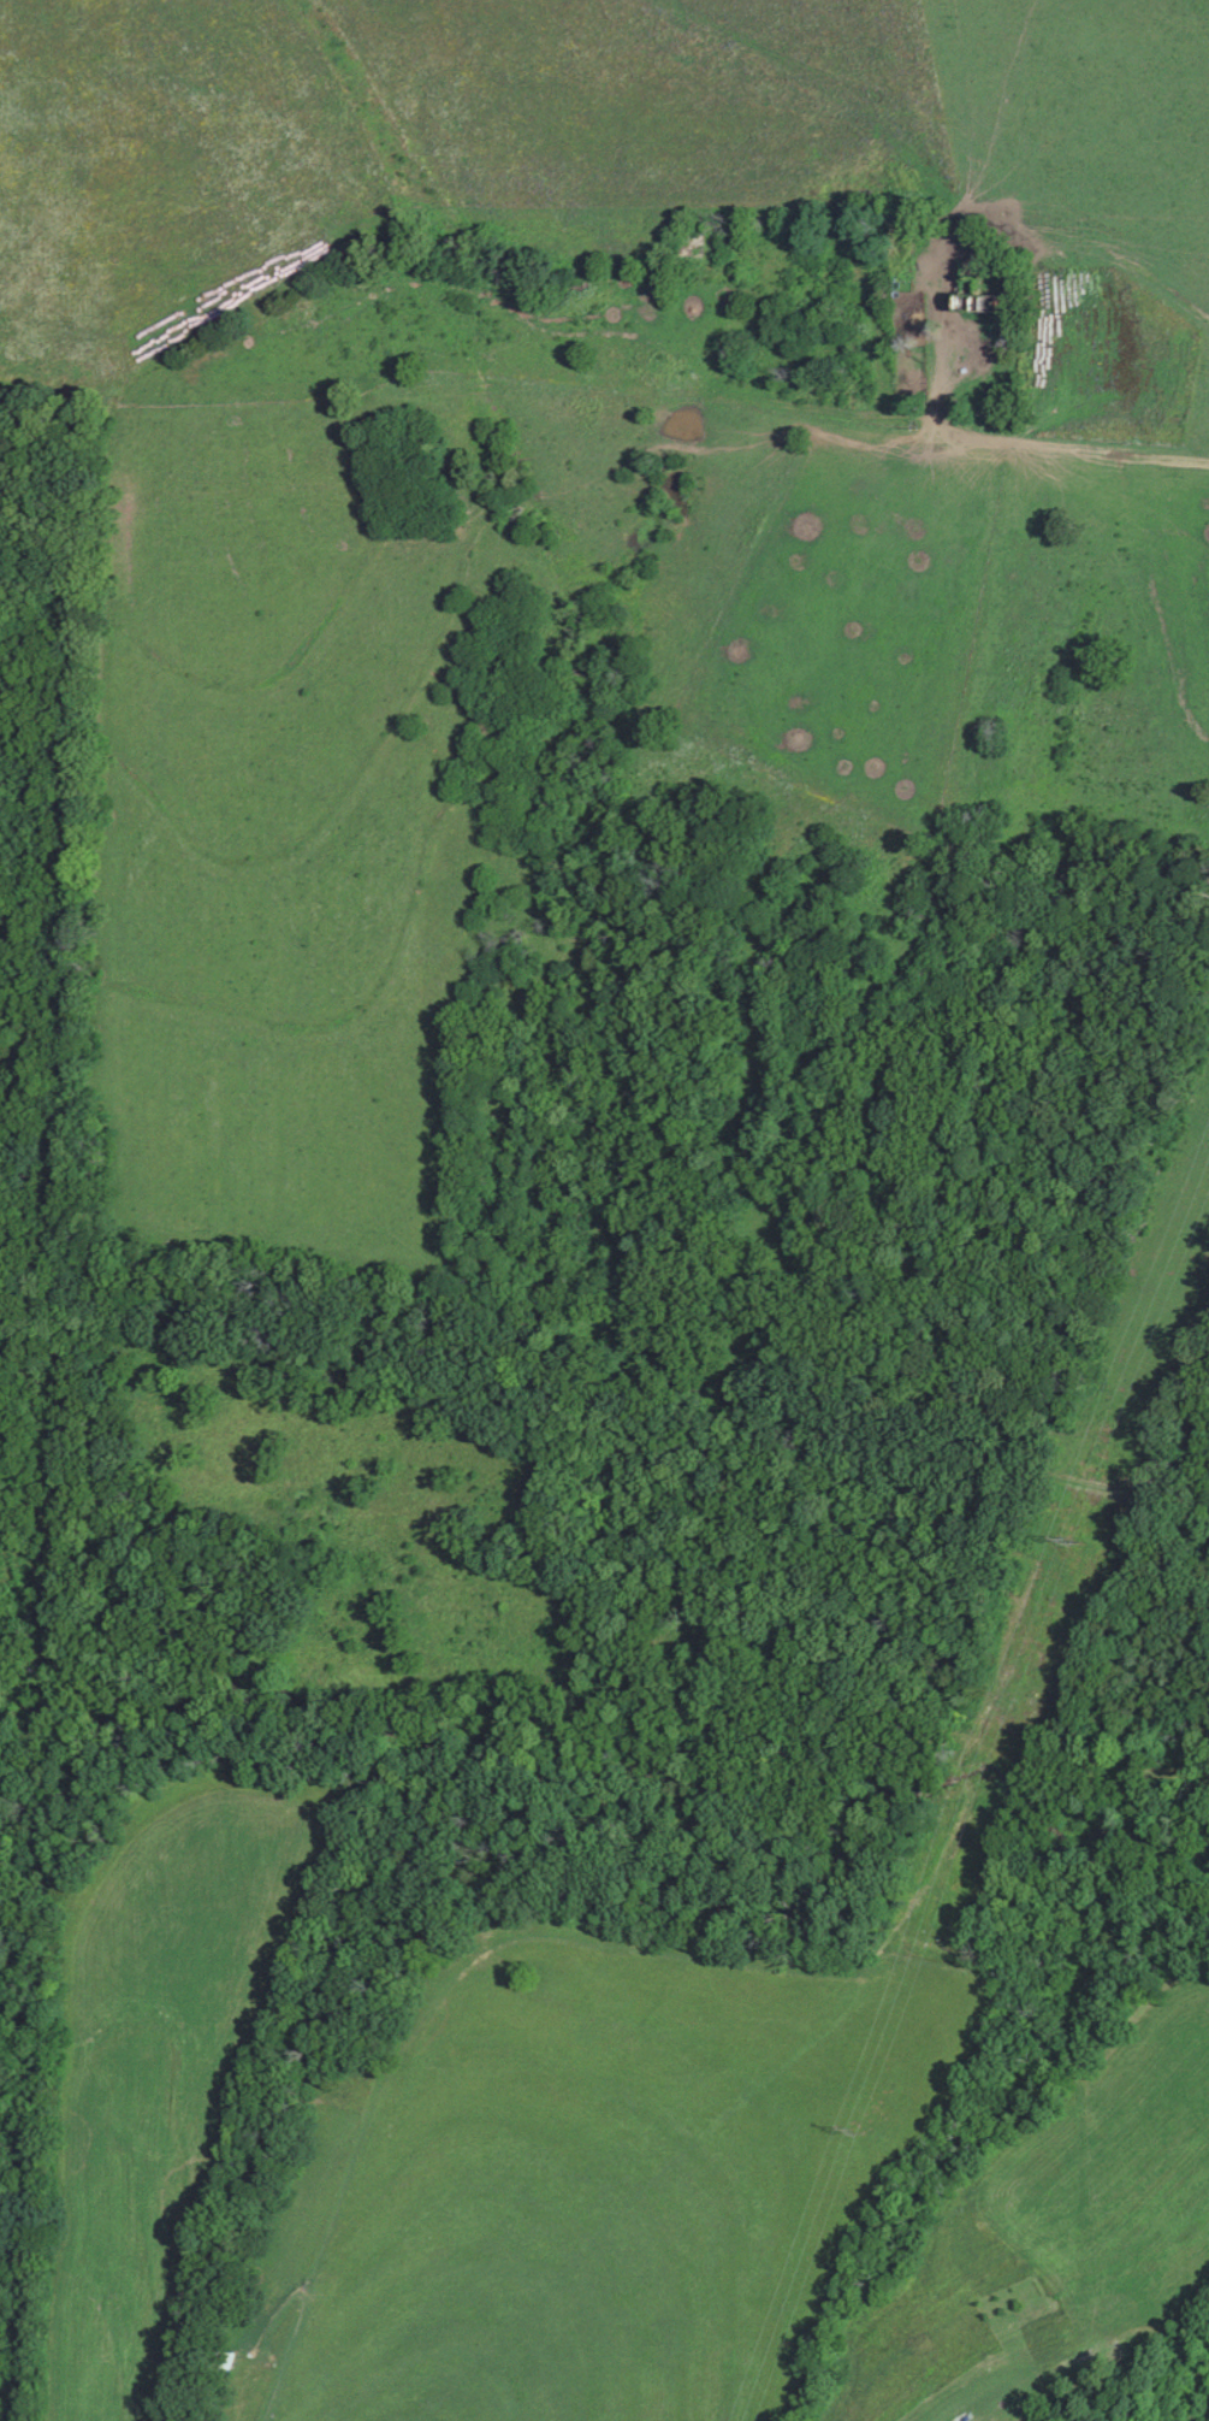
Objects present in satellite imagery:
building: (972, 296)
road: (1072, 456)
power tower: (1067, 1537)
power tower: (847, 2133)

